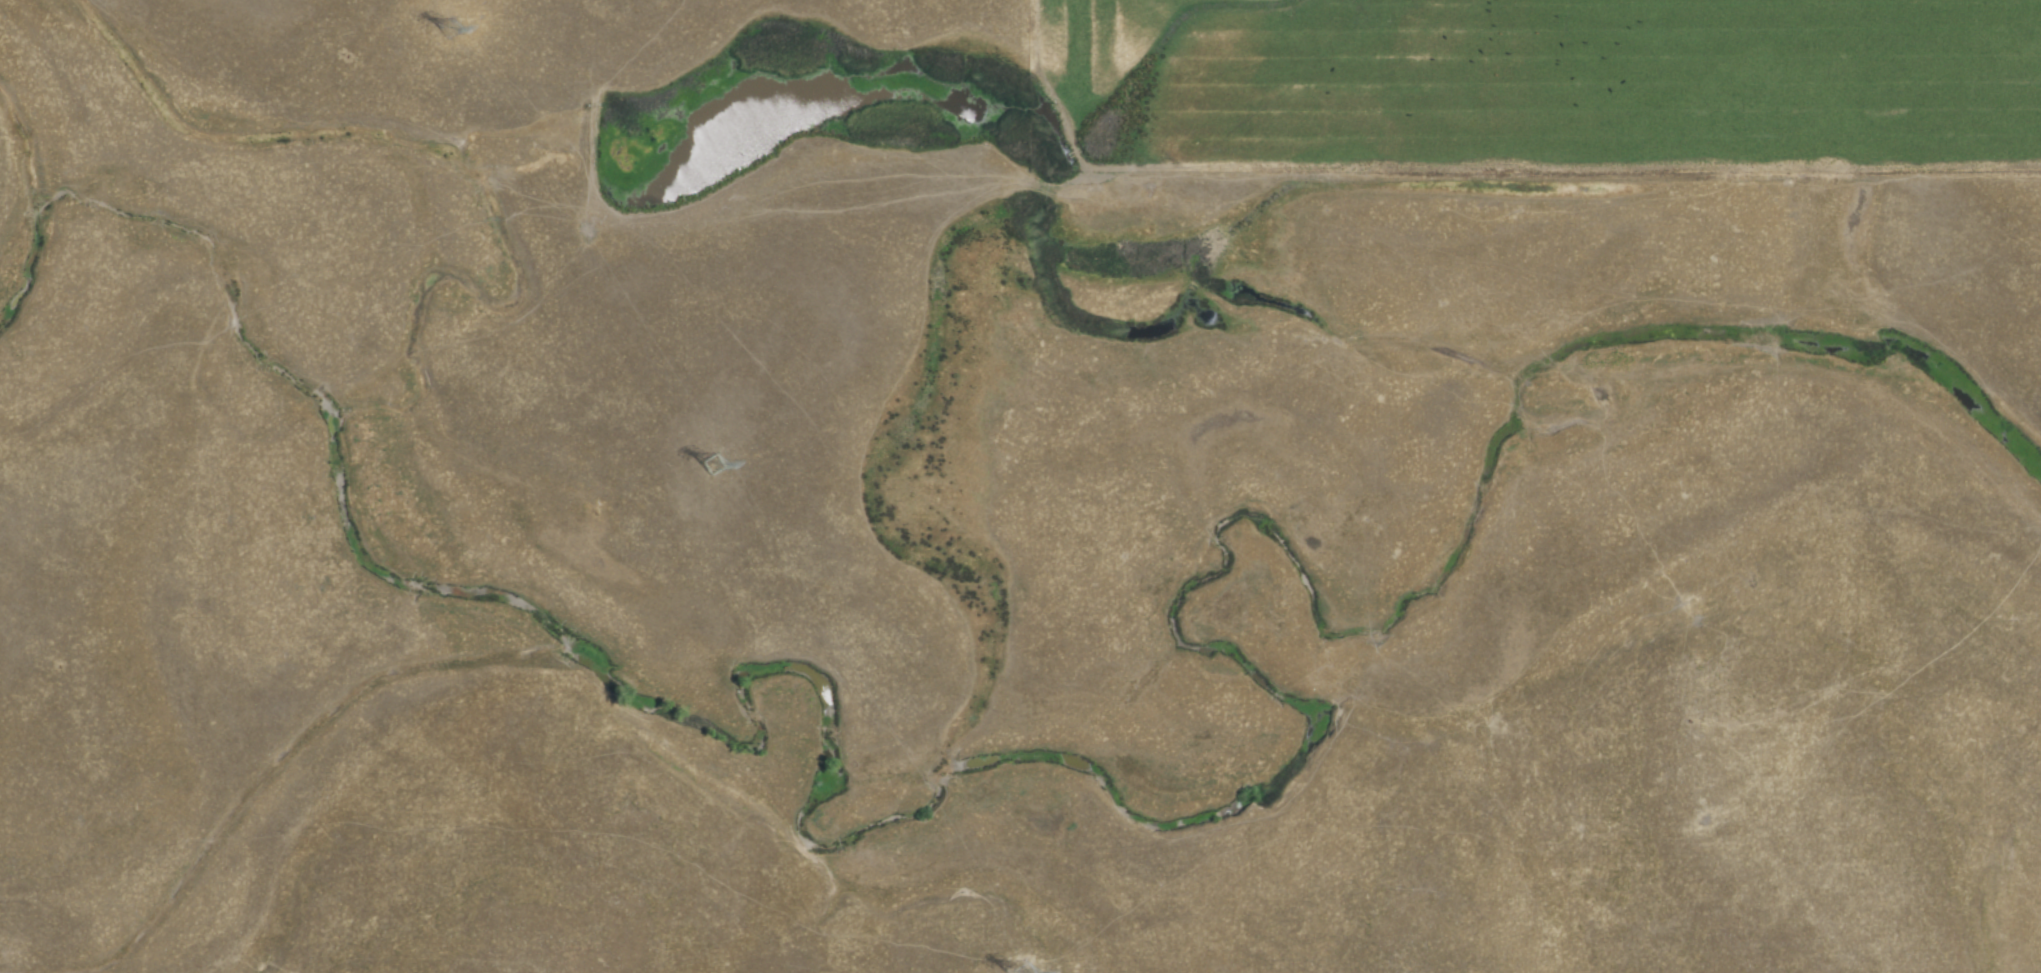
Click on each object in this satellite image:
power tower: (445, 32)
power tower: (710, 464)

